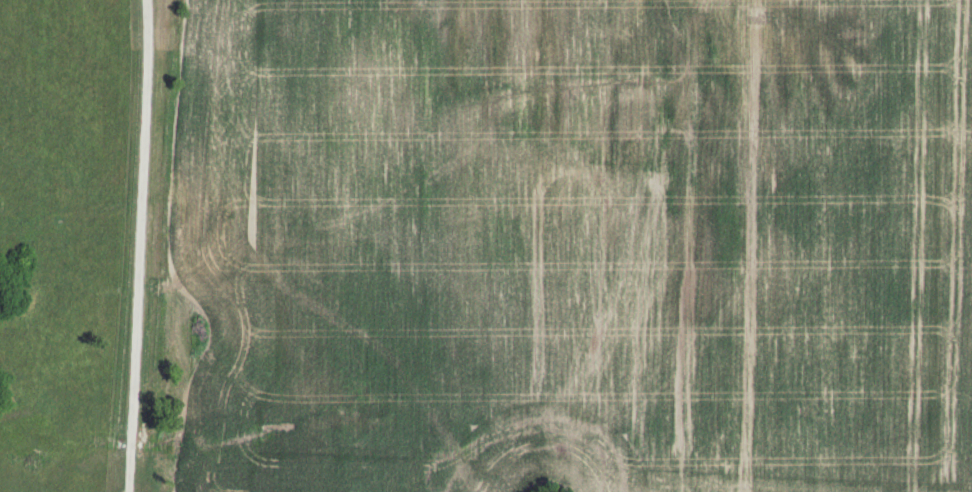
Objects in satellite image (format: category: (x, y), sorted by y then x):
road: (141, 246)

